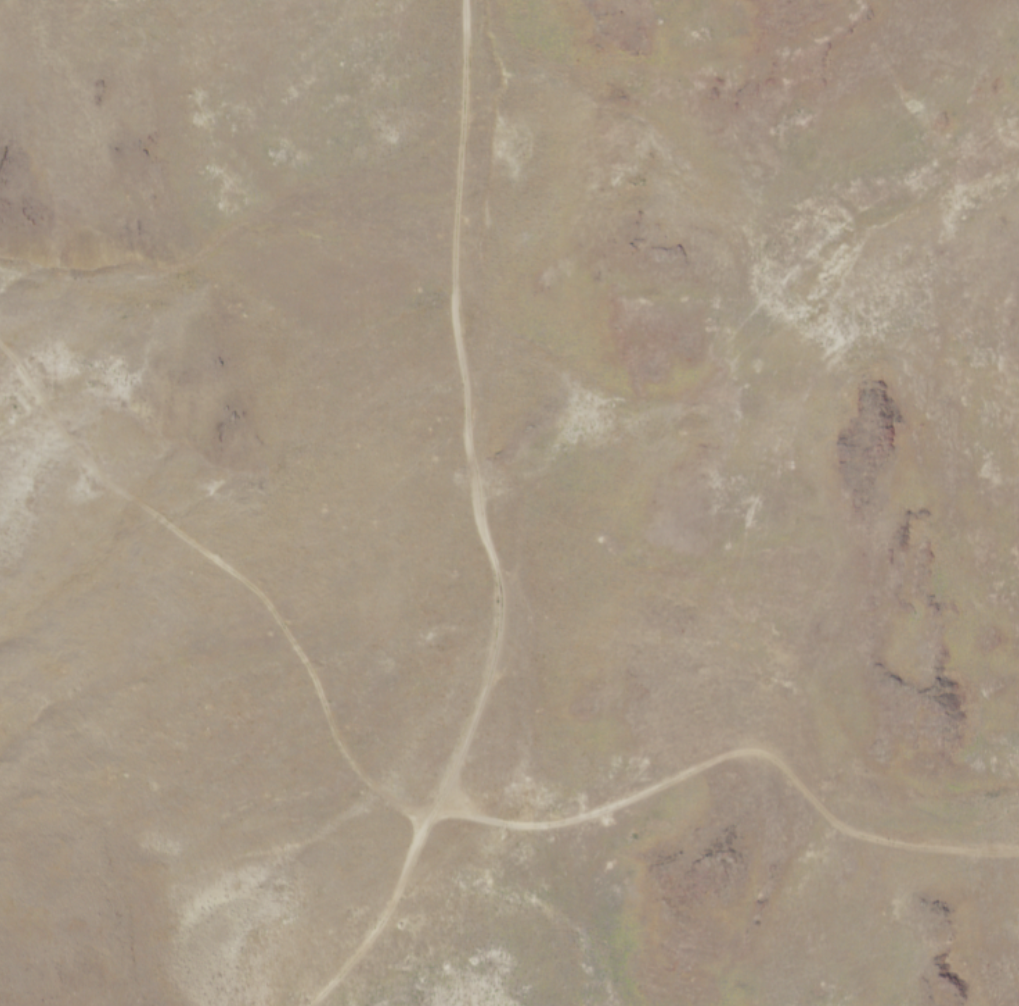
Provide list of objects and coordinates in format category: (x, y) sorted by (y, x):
road: (460, 407)
road: (225, 566)
road: (732, 753)
road: (369, 908)

